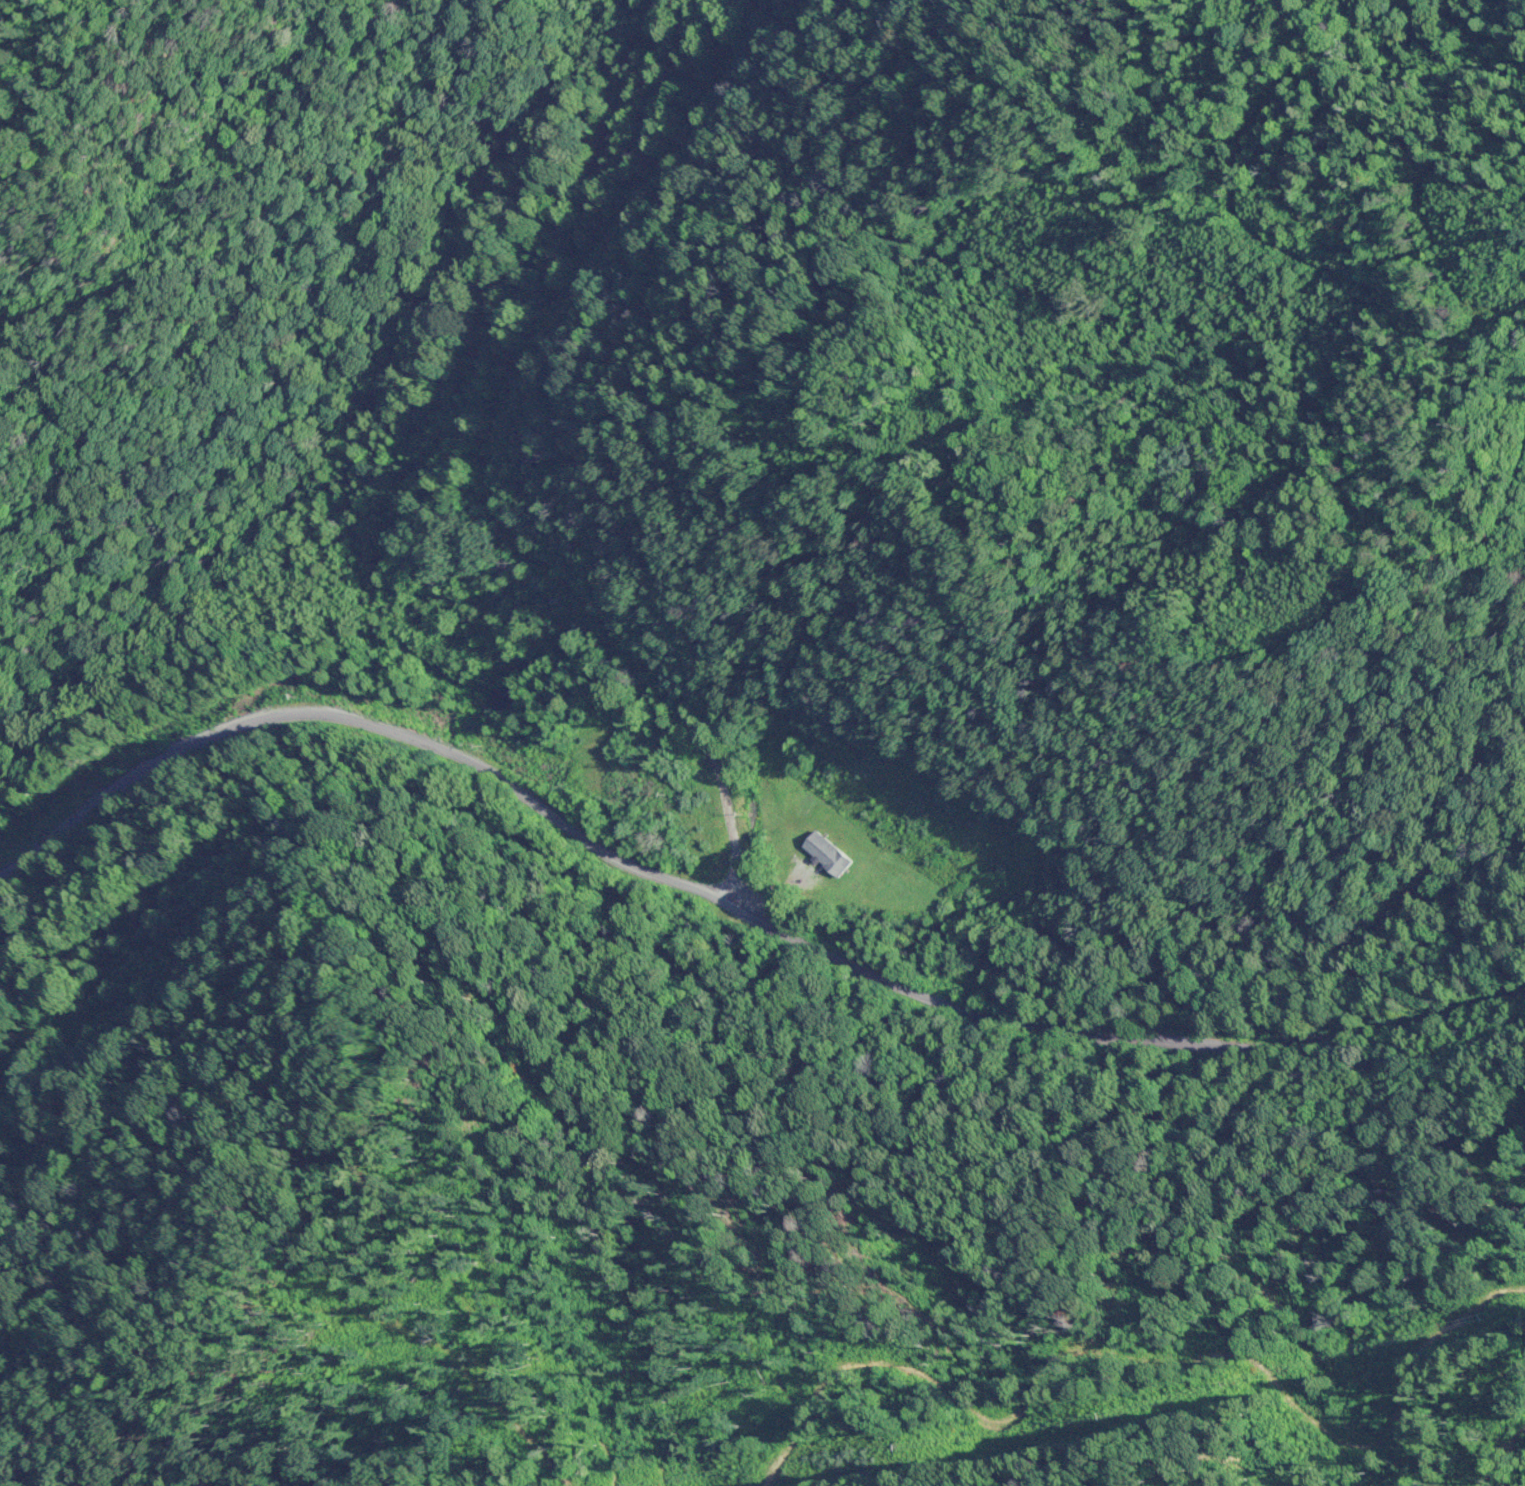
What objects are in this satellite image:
road: (1423, 540)
building: (828, 854)
road: (743, 877)

